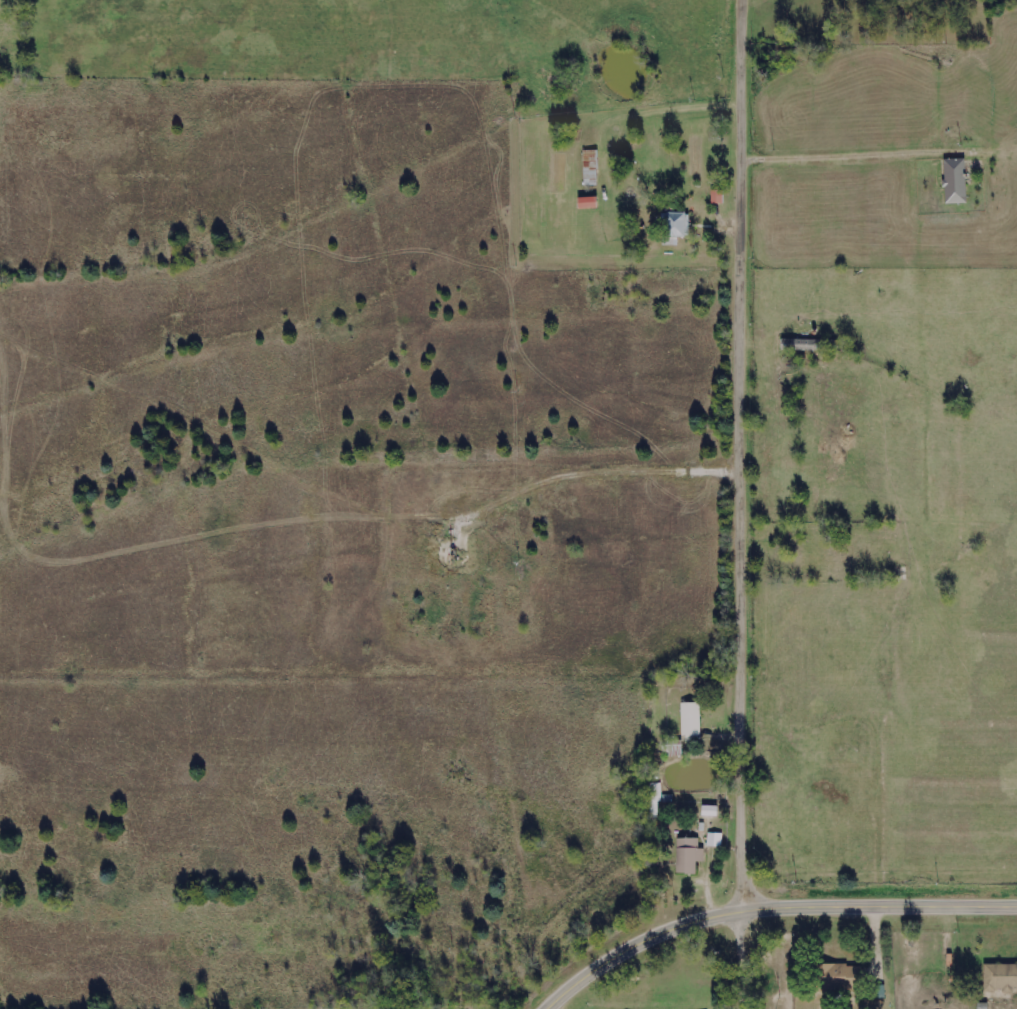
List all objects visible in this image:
building: (590, 167)
building: (955, 181)
building: (717, 197)
building: (675, 227)
building: (806, 345)
road: (748, 504)
building: (690, 719)
building: (709, 811)
building: (714, 840)
building: (688, 855)
road: (767, 906)
building: (841, 977)
building: (1000, 978)

